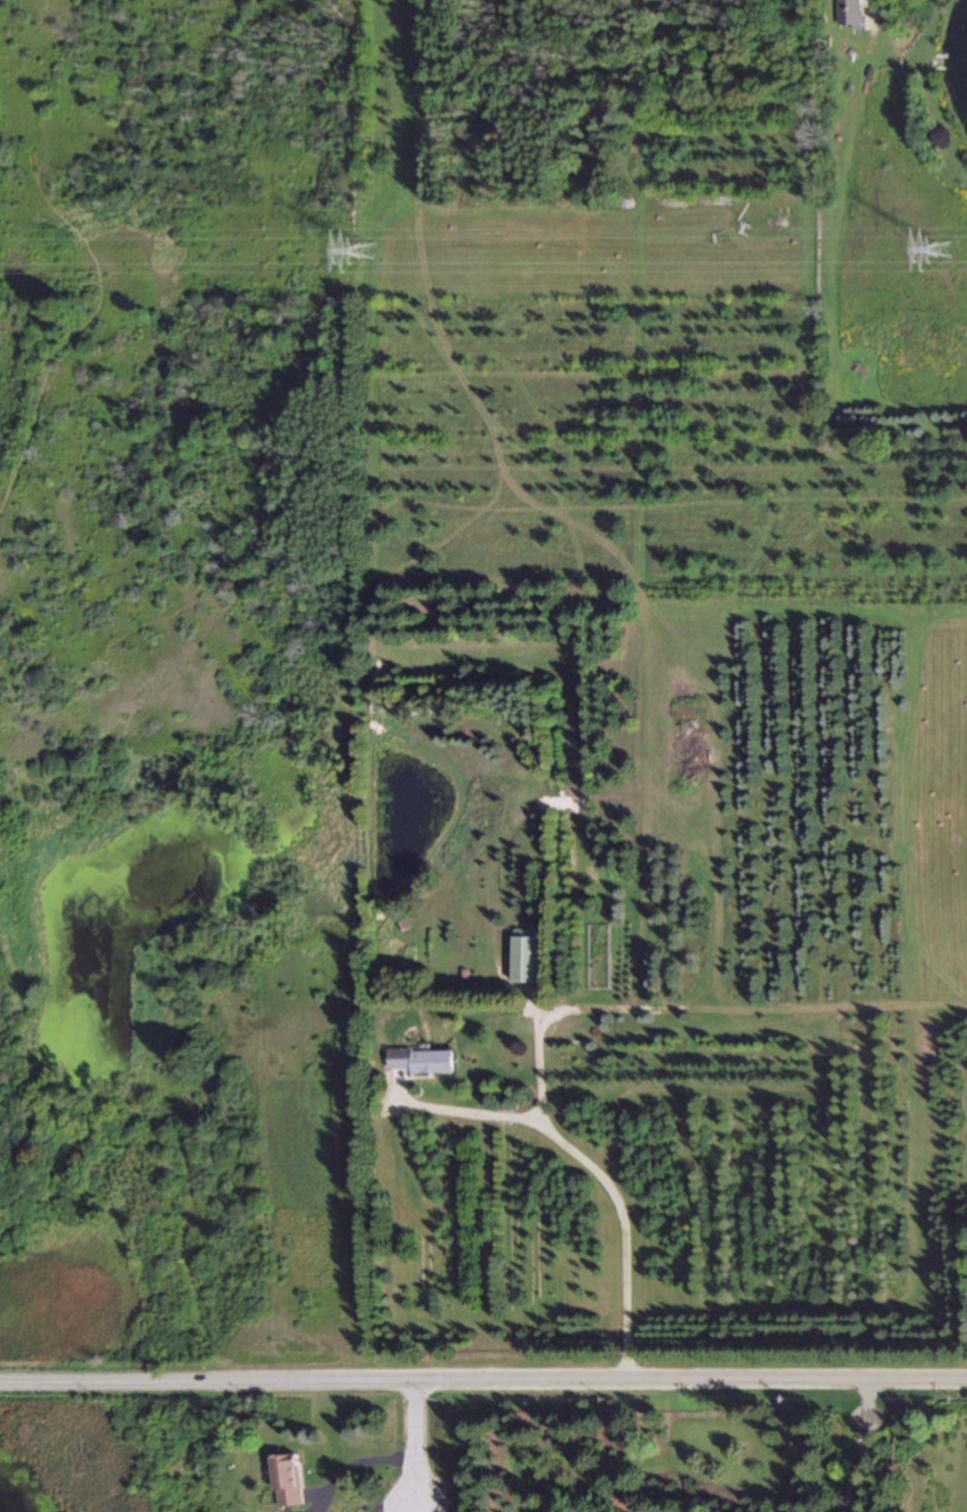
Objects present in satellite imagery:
power tower: (944, 258)
power tower: (366, 260)
building: (527, 957)
building: (422, 1062)
road: (469, 1114)
road: (604, 1179)
road: (483, 1380)
road: (417, 1444)
road: (864, 1448)
road: (358, 1461)
building: (286, 1482)
road: (395, 1508)
road: (419, 1510)

